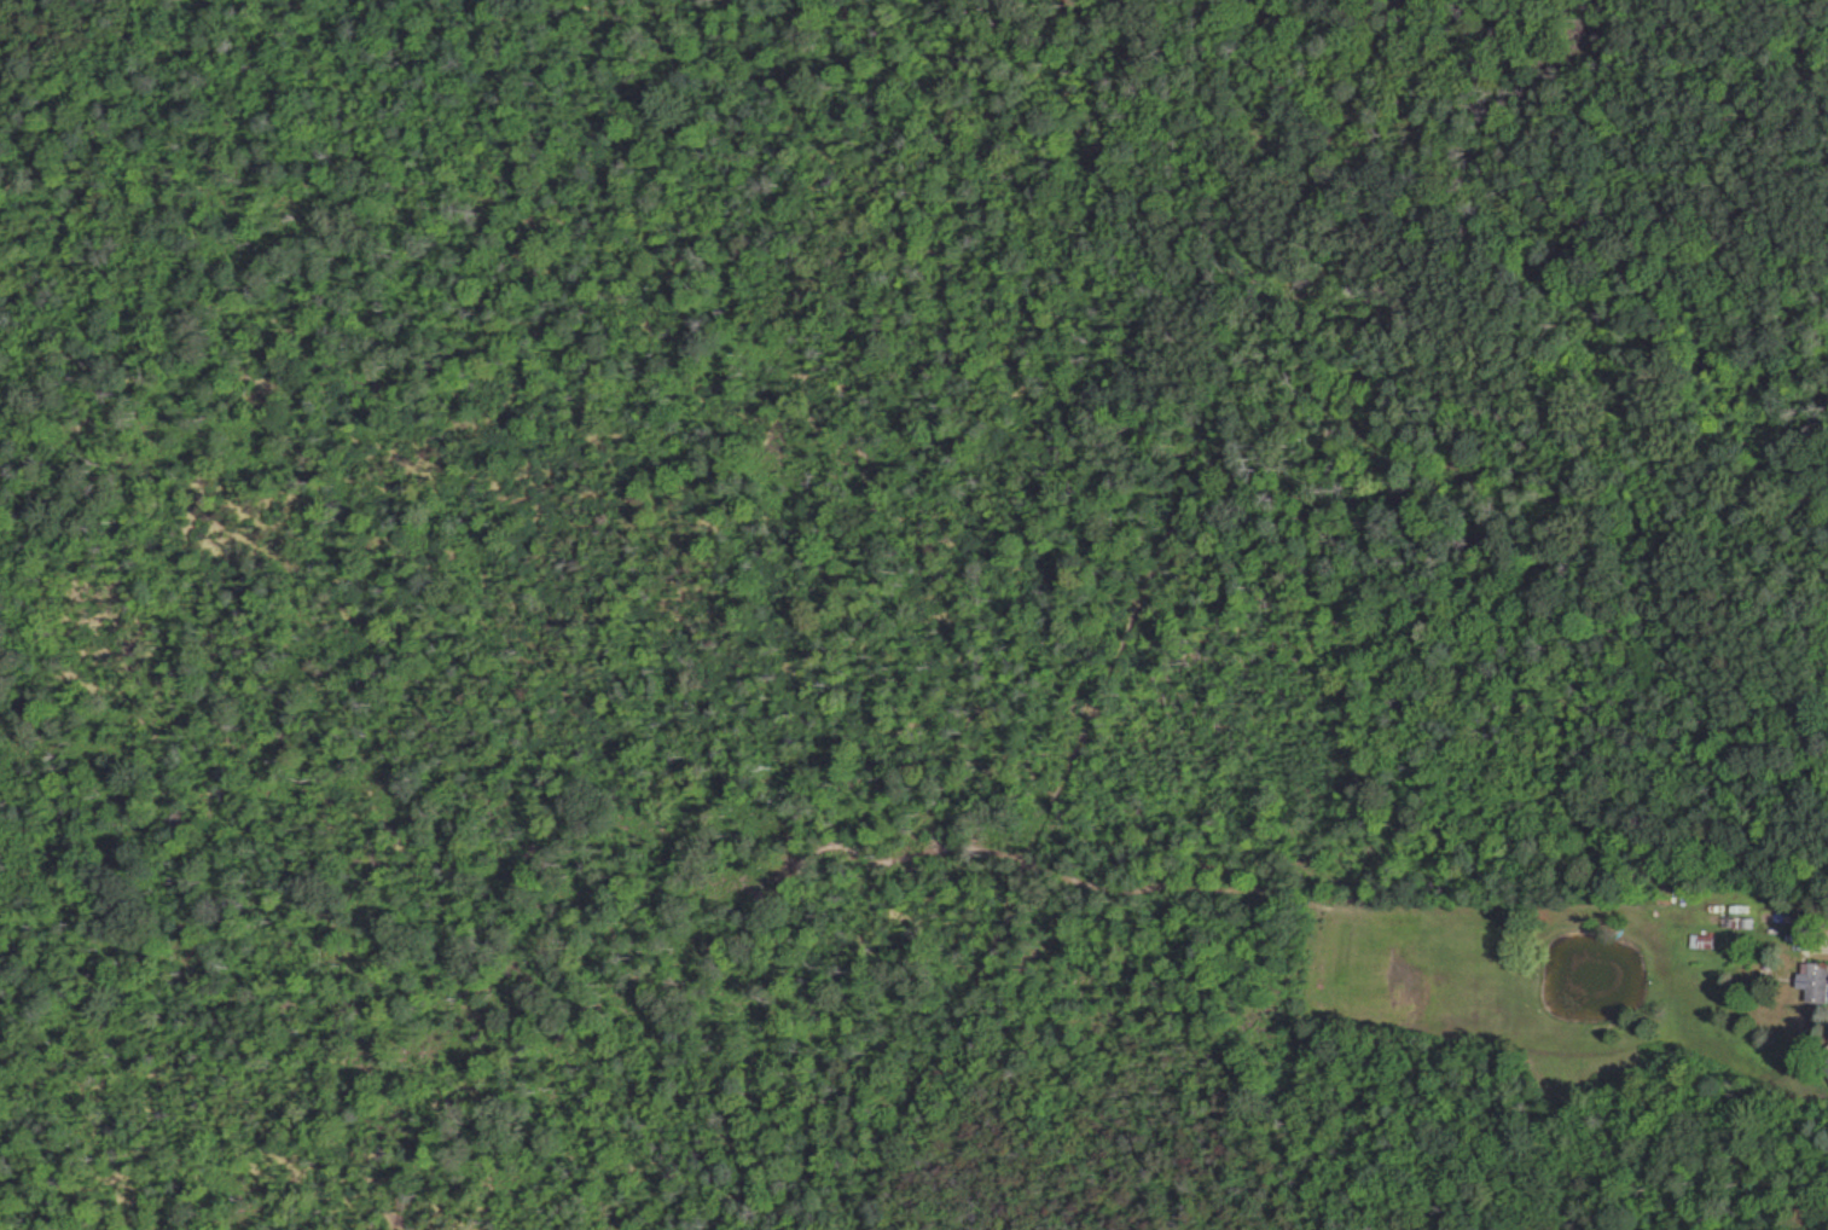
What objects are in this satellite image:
building: (1812, 982)
building: (1823, 1068)

